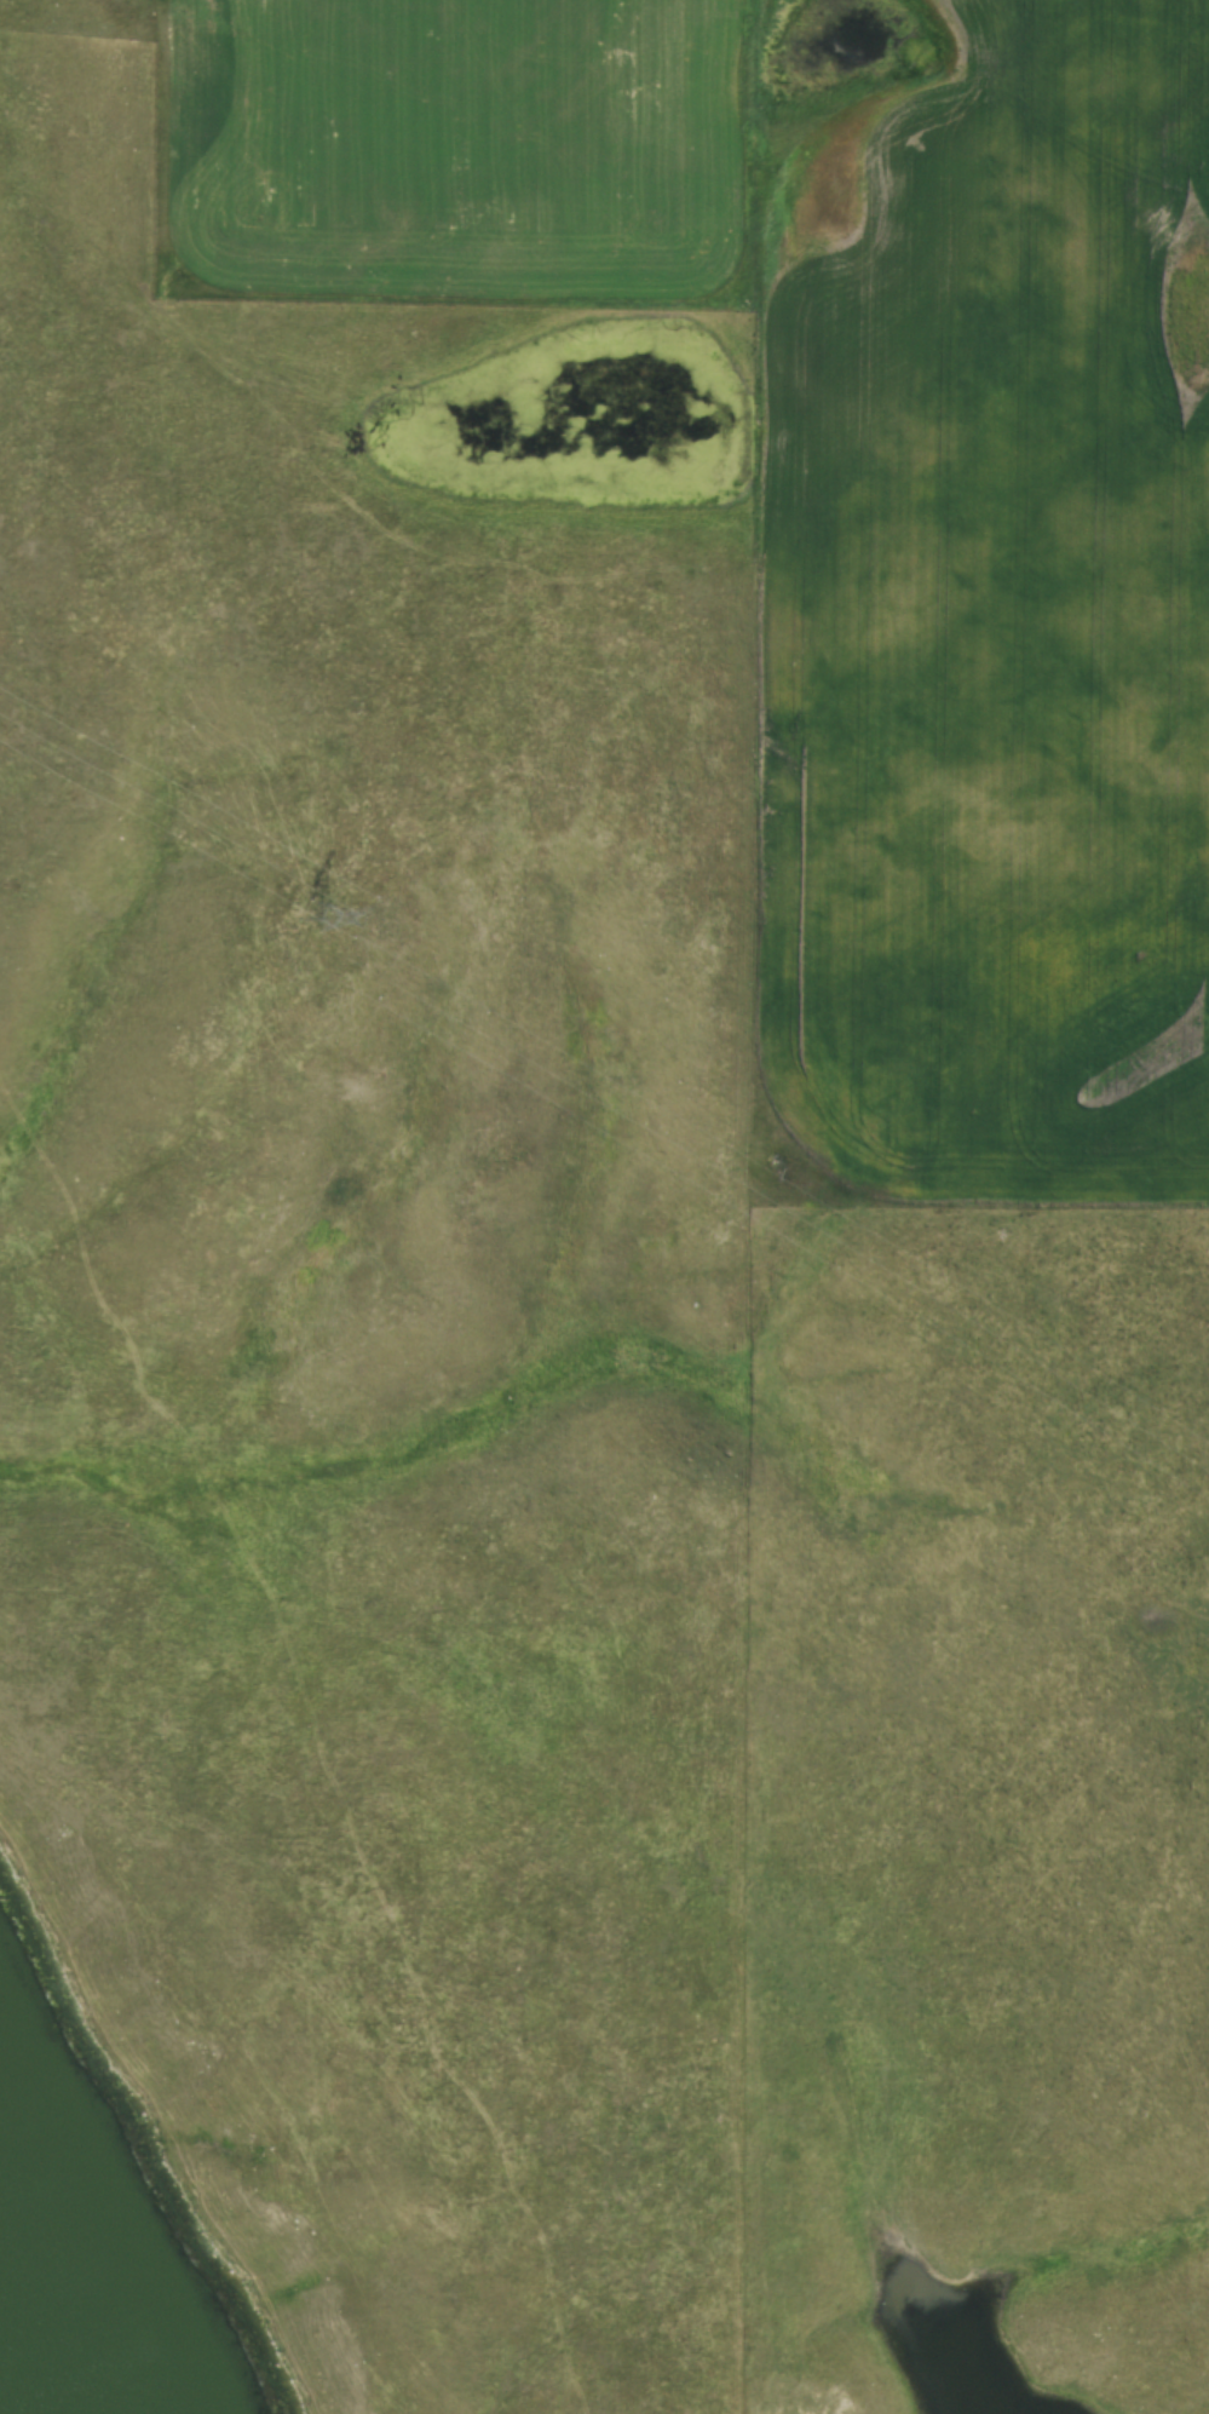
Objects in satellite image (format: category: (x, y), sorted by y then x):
power tower: (321, 902)

